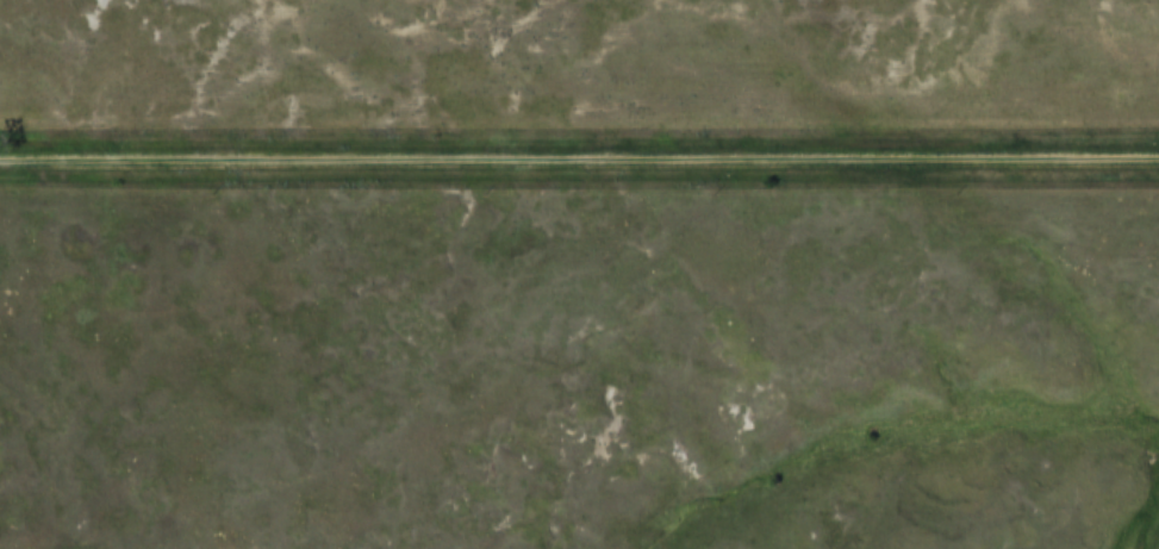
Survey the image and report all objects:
road: (579, 168)

